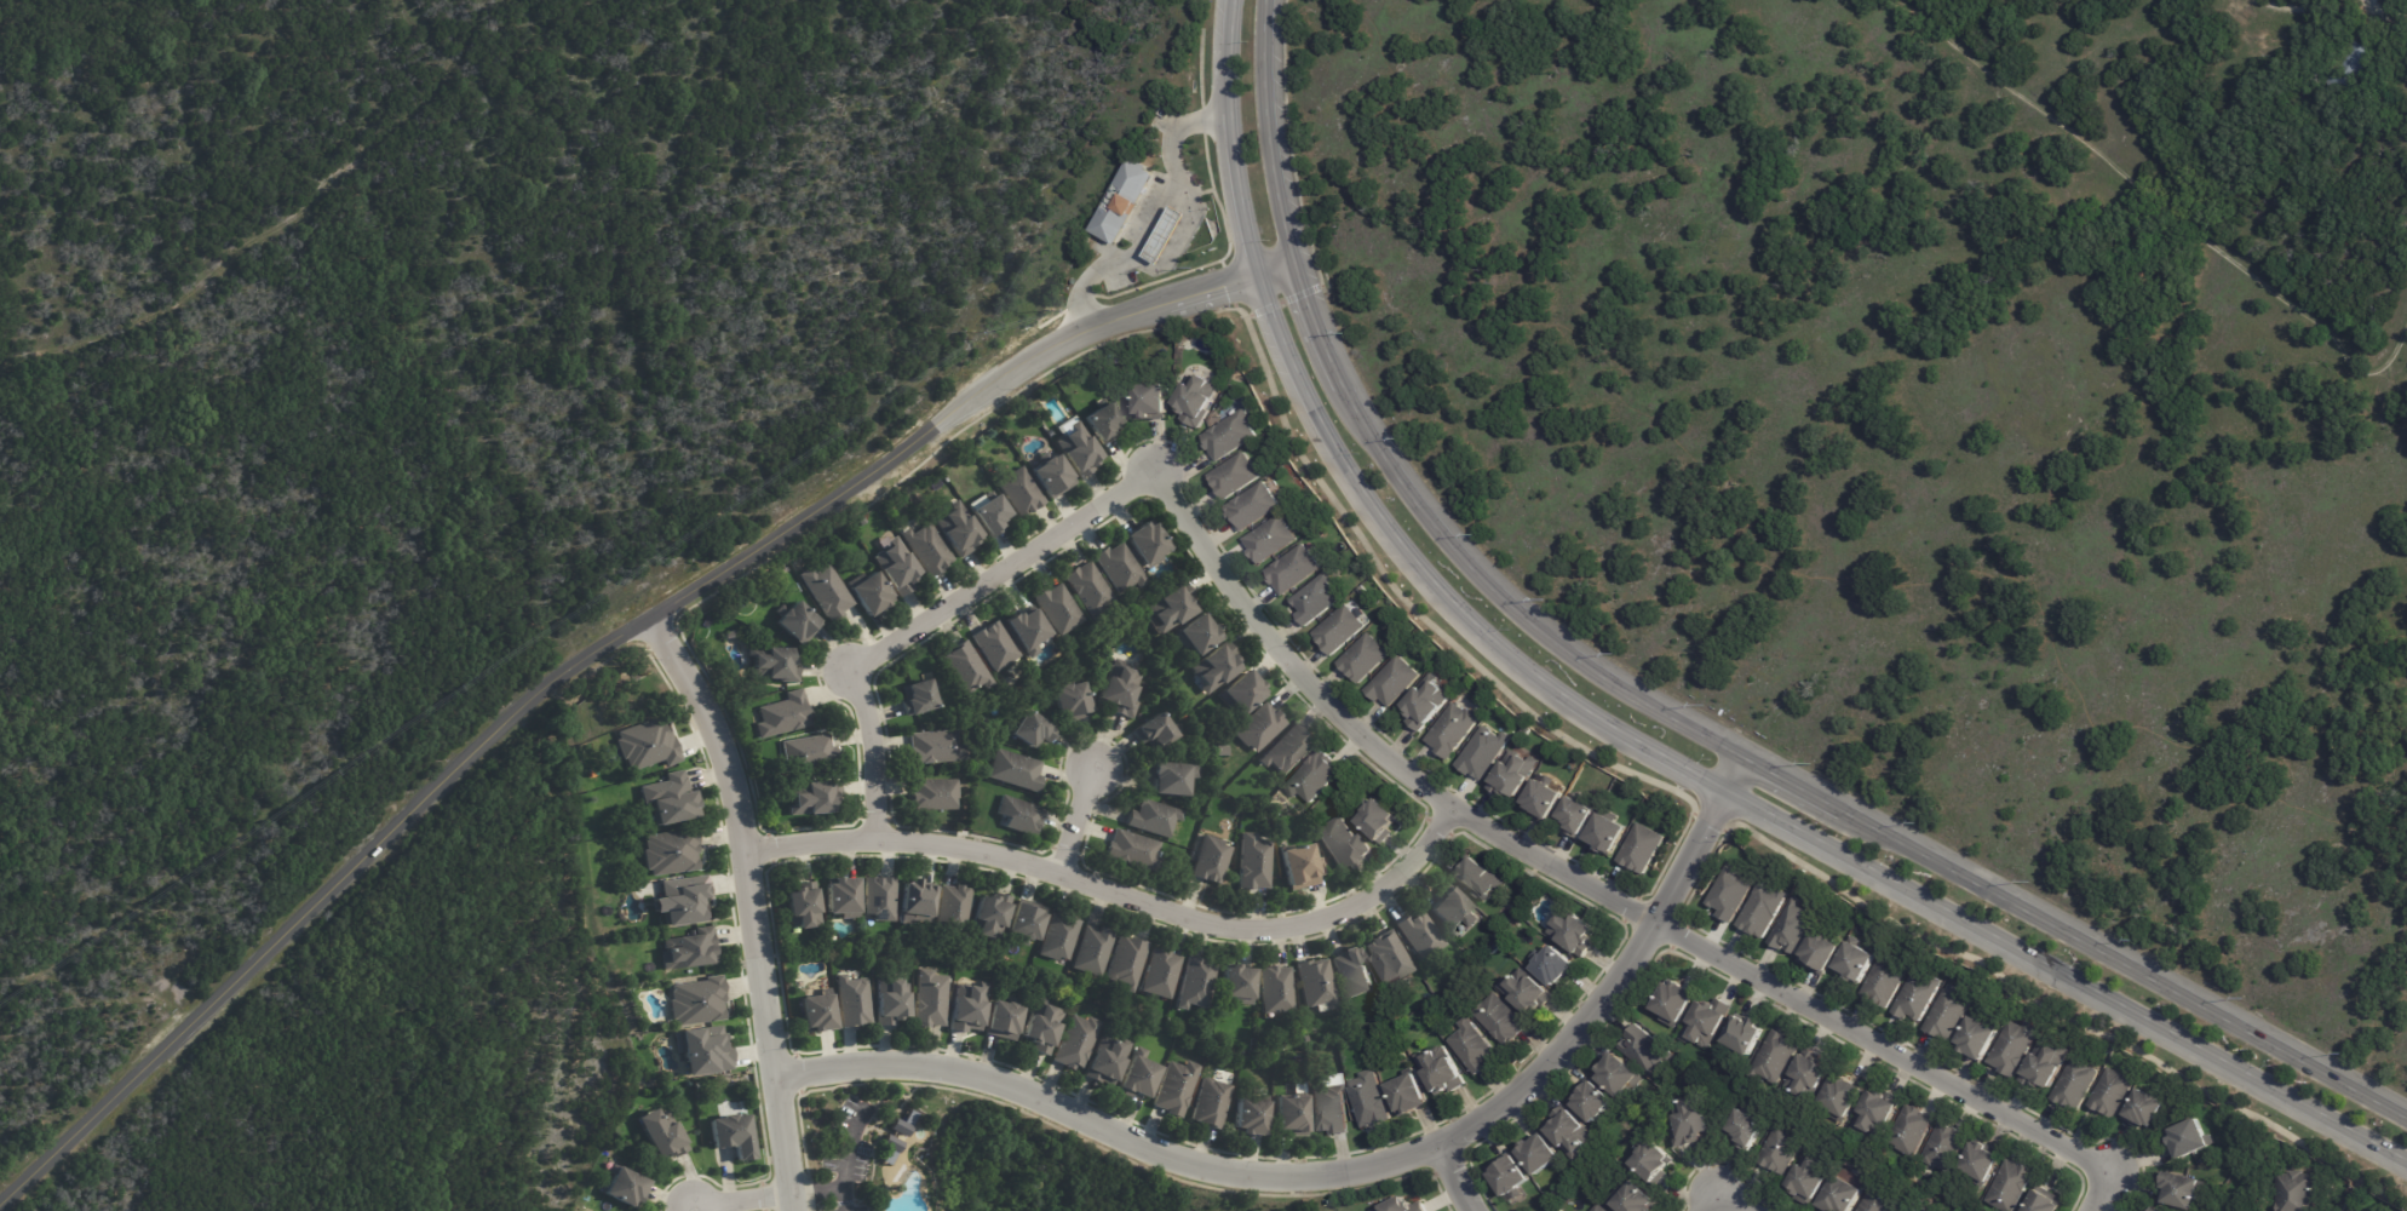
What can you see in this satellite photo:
building: (2350, 64)
building: (1122, 201)
road: (2164, 206)
road: (1159, 216)
building: (1167, 234)
building: (1227, 375)
building: (1195, 400)
building: (1151, 401)
building: (1101, 423)
building: (1049, 434)
building: (1228, 435)
park: (1897, 449)
building: (1078, 450)
building: (1051, 476)
building: (1233, 477)
building: (1018, 492)
building: (1251, 506)
building: (988, 516)
building: (957, 528)
building: (1268, 539)
building: (1145, 544)
building: (927, 549)
road: (1758, 561)
building: (1116, 567)
building: (897, 568)
building: (1292, 569)
building: (1087, 589)
building: (868, 591)
building: (825, 592)
building: (1314, 599)
building: (1058, 608)
building: (1168, 608)
road: (927, 619)
building: (797, 621)
building: (1337, 629)
building: (1026, 631)
building: (1195, 636)
building: (994, 645)
road: (591, 652)
building: (1363, 659)
building: (772, 665)
building: (966, 667)
building: (1216, 667)
building: (1392, 682)
building: (1118, 690)
building: (1241, 691)
building: (919, 698)
building: (1069, 702)
building: (1425, 702)
road: (1656, 707)
building: (781, 716)
building: (1258, 729)
building: (1029, 730)
building: (1452, 730)
building: (1155, 733)
road: (1631, 735)
building: (647, 745)
building: (933, 747)
building: (1222, 751)
building: (808, 752)
building: (1286, 752)
building: (1483, 753)
building: (1012, 771)
building: (1512, 774)
building: (1170, 777)
building: (1314, 777)
building: (933, 794)
building: (811, 798)
building: (670, 799)
building: (1541, 799)
building: (1018, 815)
building: (1574, 816)
building: (1151, 819)
road: (1075, 820)
building: (1377, 820)
building: (1607, 832)
building: (1342, 843)
building: (1642, 849)
building: (1131, 851)
building: (670, 853)
building: (1210, 861)
building: (1252, 862)
building: (1300, 869)
building: (1476, 879)
road: (1579, 882)
building: (648, 888)
building: (1729, 891)
road: (1119, 893)
building: (840, 899)
building: (880, 899)
building: (679, 901)
building: (917, 901)
road: (751, 905)
building: (802, 907)
building: (953, 907)
building: (1762, 907)
building: (1449, 911)
building: (989, 917)
building: (1792, 924)
building: (1023, 925)
building: (1522, 929)
building: (1573, 934)
building: (1419, 936)
building: (1057, 939)
building: (1819, 949)
building: (689, 951)
building: (1091, 952)
building: (1388, 958)
building: (1856, 959)
building: (1125, 963)
building: (1553, 965)
building: (1352, 974)
building: (1159, 975)
building: (1884, 981)
building: (1195, 985)
building: (1315, 985)
building: (1236, 986)
building: (1275, 989)
building: (1526, 991)
building: (1919, 994)
building: (930, 1000)
building: (1674, 1000)
building: (854, 1003)
building: (886, 1003)
building: (696, 1004)
building: (964, 1009)
building: (1948, 1012)
building: (815, 1015)
building: (1500, 1018)
building: (1705, 1020)
building: (1001, 1021)
building: (1040, 1028)
building: (1742, 1034)
building: (1978, 1034)
building: (1075, 1044)
building: (2015, 1045)
building: (1472, 1048)
building: (1645, 1049)
building: (702, 1052)
building: (1776, 1056)
building: (1104, 1061)
building: (2044, 1062)
building: (1440, 1071)
building: (1809, 1072)
building: (1619, 1074)
building: (1137, 1077)
building: (2074, 1083)
building: (1298, 1087)
building: (1174, 1089)
building: (2112, 1091)
building: (1408, 1096)
building: (1840, 1096)
building: (1369, 1100)
building: (1593, 1100)
building: (1208, 1106)
building: (2143, 1106)
building: (1875, 1109)
building: (1328, 1110)
building: (907, 1117)
building: (1289, 1117)
building: (1248, 1118)
building: (1690, 1120)
building: (693, 1126)
building: (1747, 1126)
building: (897, 1127)
building: (1911, 1129)
building: (1570, 1130)
building: (661, 1133)
building: (731, 1137)
building: (2190, 1138)
building: (1942, 1146)
building: (887, 1147)
building: (1782, 1147)
building: (1540, 1154)
road: (846, 1157)
building: (1651, 1159)
building: (1977, 1160)
road: (1350, 1170)
building: (1810, 1175)
road: (1455, 1177)
building: (1510, 1177)
building: (2007, 1184)
building: (621, 1186)
building: (2183, 1187)
road: (817, 1189)
road: (2096, 1189)
building: (2297, 1192)
building: (1839, 1193)
road: (1717, 1195)
building: (1631, 1198)
road: (741, 1199)
building: (1877, 1200)
building: (2041, 1201)
building: (1402, 1205)
building: (1598, 1207)
building: (1908, 1209)
building: (2156, 1209)
building: (2354, 1210)

